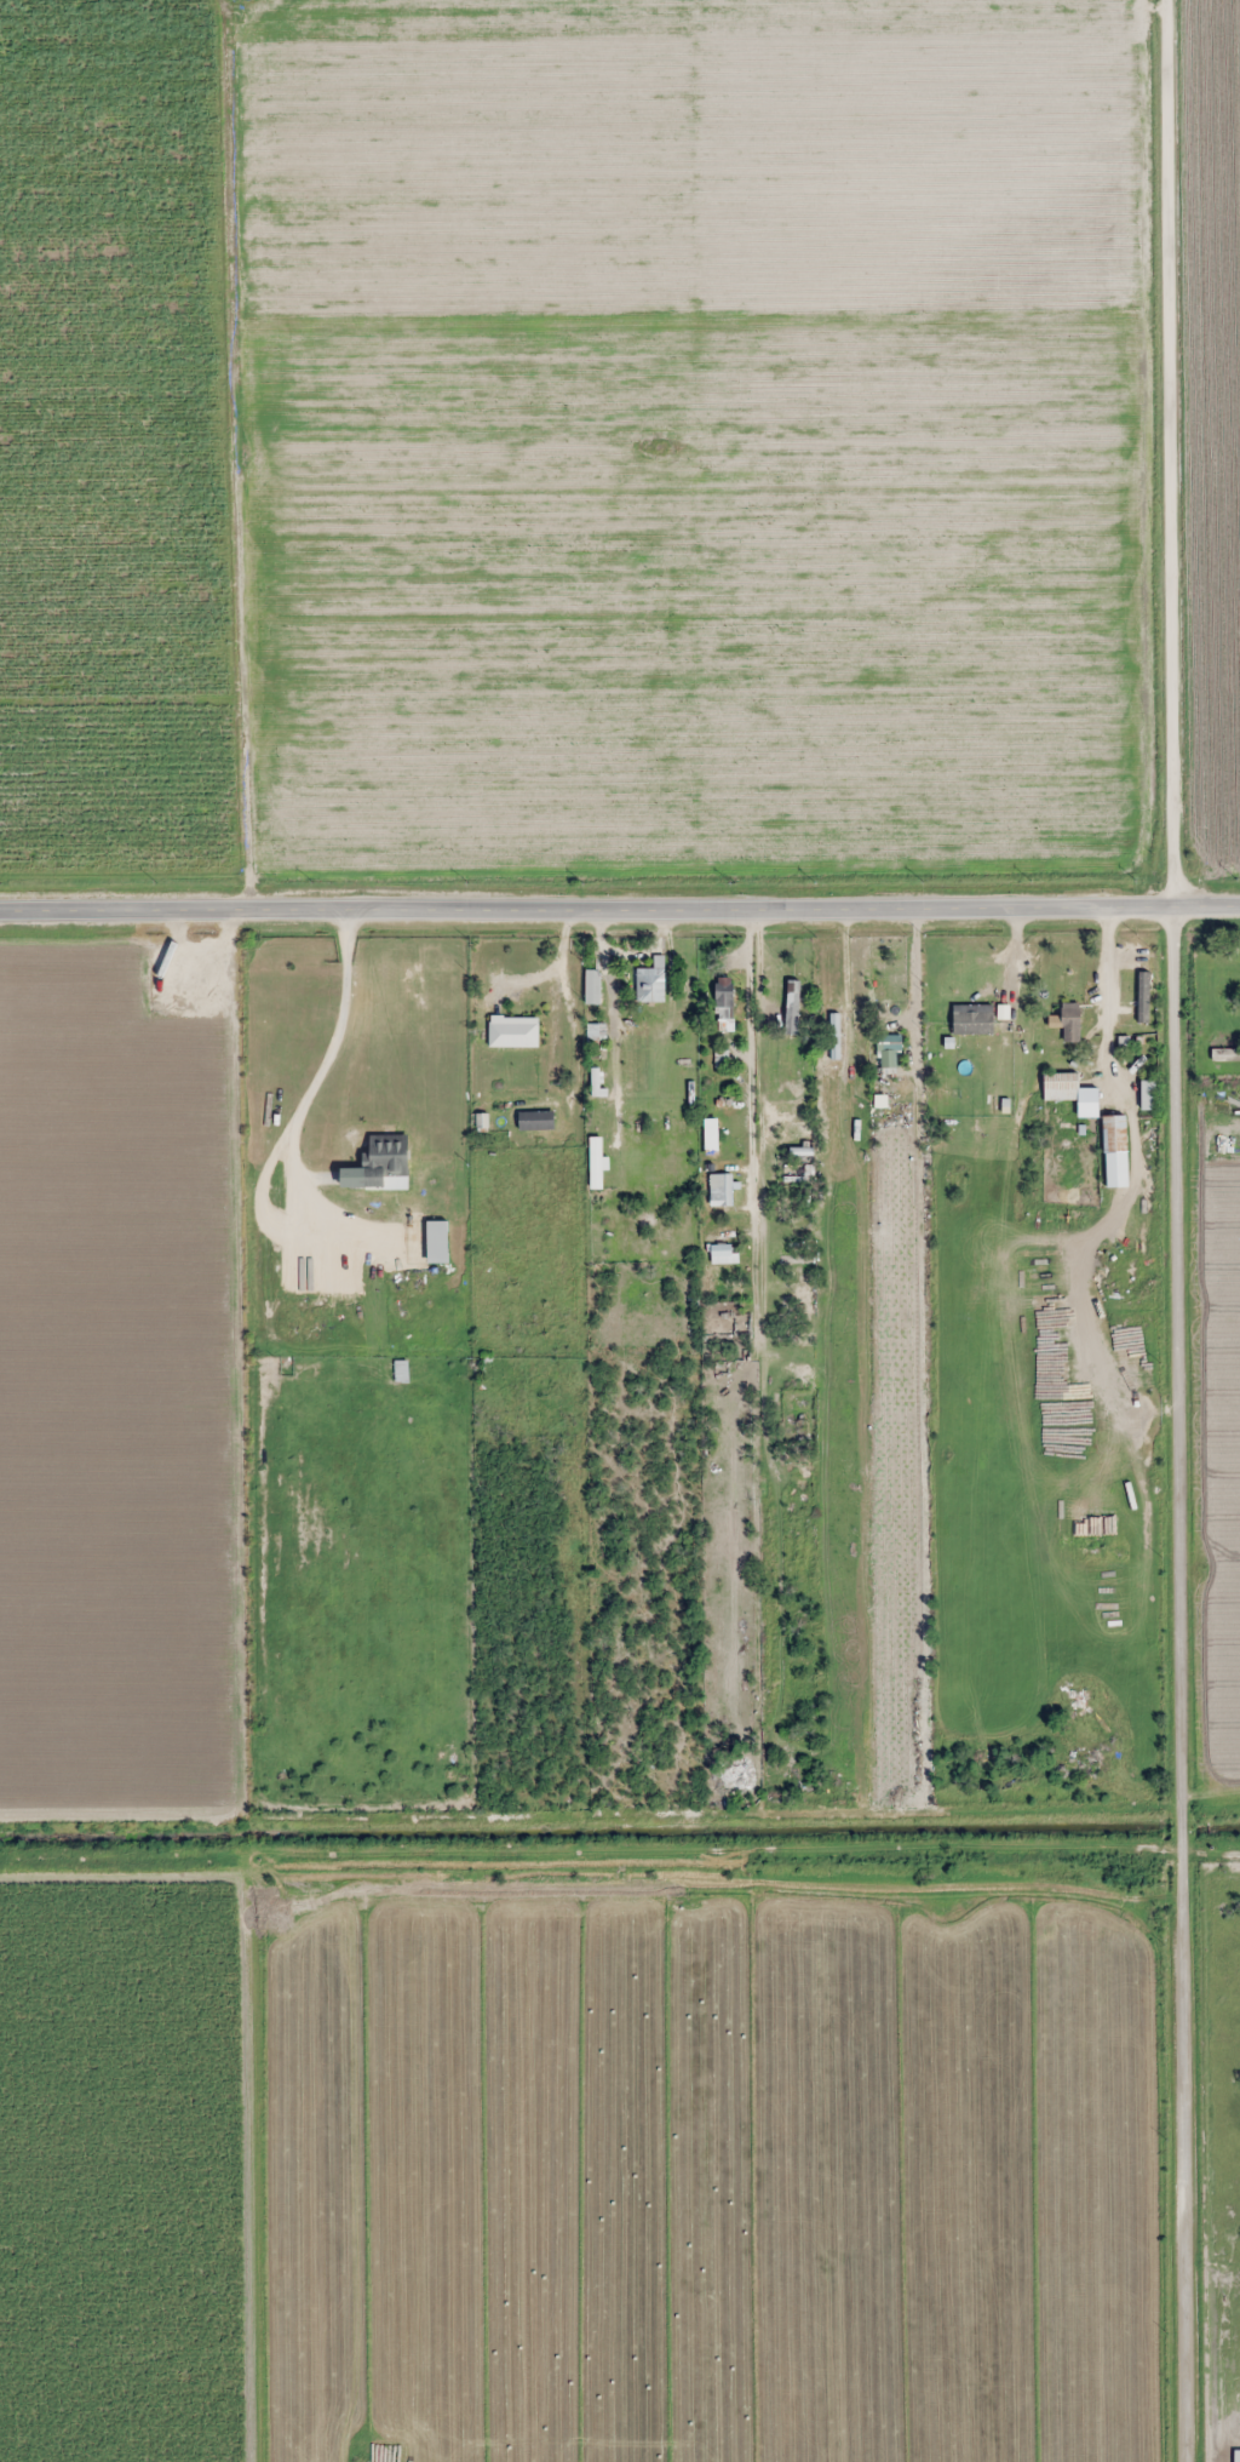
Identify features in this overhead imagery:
road: (619, 900)
building: (650, 984)
building: (592, 985)
building: (725, 992)
building: (972, 1018)
building: (1068, 1021)
building: (513, 1031)
building: (834, 1036)
building: (889, 1050)
building: (1223, 1054)
building: (1069, 1088)
building: (536, 1120)
building: (1114, 1133)
building: (711, 1135)
building: (385, 1157)
building: (596, 1168)
building: (351, 1176)
building: (725, 1190)
road: (1178, 1230)
building: (724, 1254)
building: (480, 1364)
building: (1097, 1523)
building: (1236, 2456)

